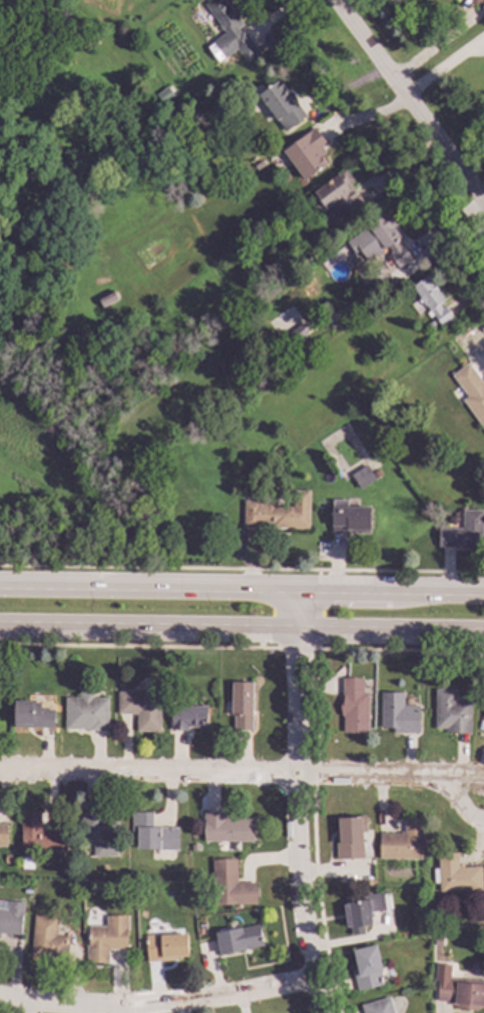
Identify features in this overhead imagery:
building: (54, 0)
building: (476, 2)
building: (228, 30)
building: (93, 40)
road: (444, 69)
road: (409, 102)
building: (282, 105)
building: (307, 153)
building: (259, 165)
building: (12, 172)
building: (339, 199)
building: (390, 241)
building: (108, 299)
building: (432, 300)
building: (430, 326)
building: (297, 334)
building: (472, 391)
building: (378, 473)
building: (363, 477)
building: (135, 492)
building: (279, 513)
building: (349, 517)
building: (220, 519)
building: (453, 519)
building: (465, 532)
road: (242, 588)
road: (241, 633)
building: (243, 706)
building: (356, 707)
building: (143, 710)
building: (87, 713)
building: (453, 713)
building: (33, 715)
building: (400, 715)
building: (190, 718)
road: (292, 772)
road: (217, 775)
road: (440, 780)
building: (228, 829)
building: (101, 833)
building: (154, 834)
building: (3, 835)
building: (39, 835)
building: (352, 840)
building: (405, 843)
building: (9, 860)
building: (458, 875)
building: (231, 885)
building: (363, 911)
building: (11, 917)
building: (108, 940)
building: (241, 940)
building: (49, 941)
building: (167, 948)
building: (439, 962)
building: (369, 968)
road: (316, 984)
building: (462, 993)
road: (158, 1002)
road: (140, 1007)
building: (380, 1007)

